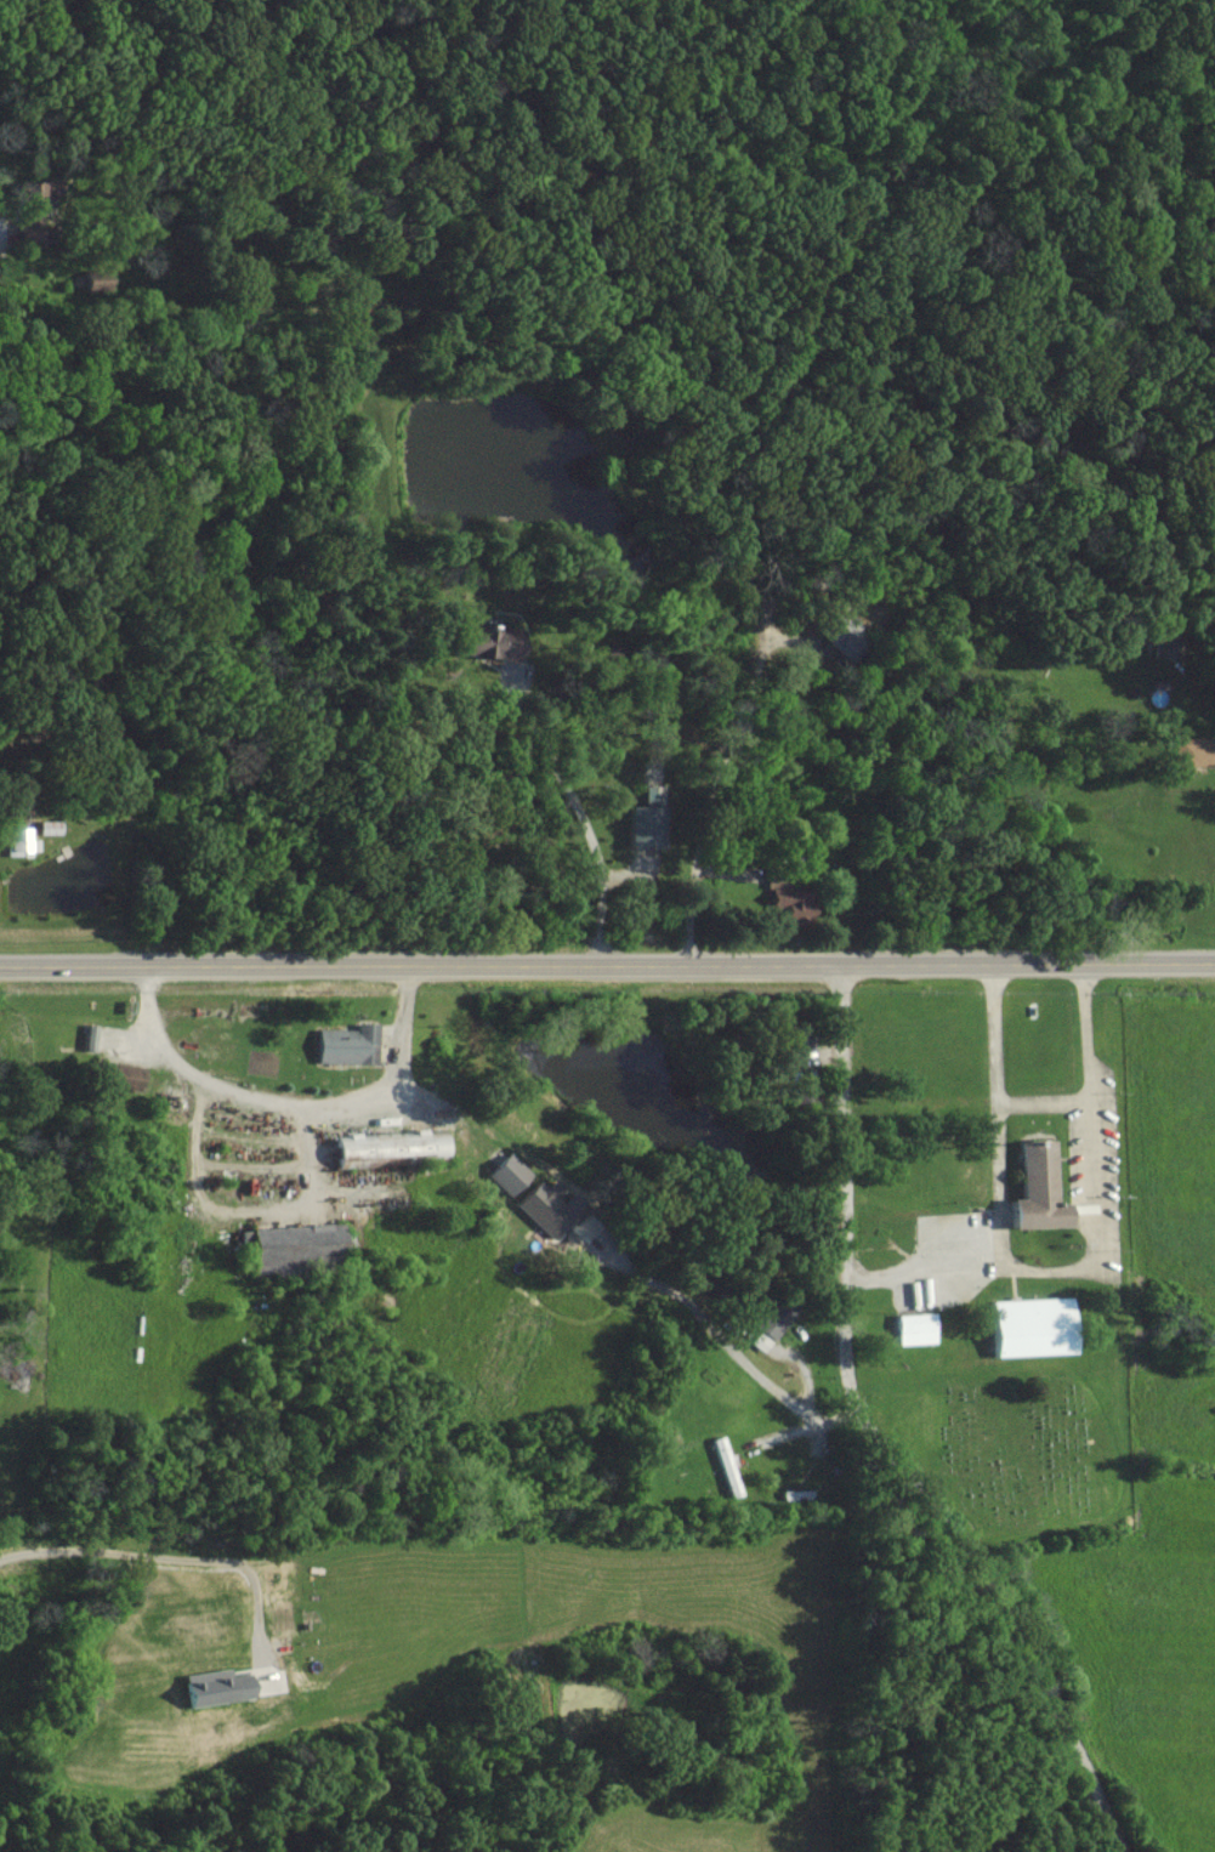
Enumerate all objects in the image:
building: (33, 200)
building: (93, 280)
building: (842, 636)
building: (483, 640)
building: (1192, 751)
road: (579, 809)
building: (643, 819)
building: (45, 826)
building: (19, 843)
road: (691, 887)
building: (790, 902)
road: (607, 961)
building: (86, 1036)
building: (791, 1041)
building: (345, 1044)
building: (118, 1074)
road: (1088, 1078)
building: (797, 1093)
road: (289, 1103)
building: (380, 1147)
building: (505, 1172)
road: (998, 1181)
building: (1033, 1188)
building: (543, 1206)
road: (238, 1210)
building: (286, 1244)
building: (767, 1324)
building: (1029, 1325)
building: (912, 1328)
road: (723, 1340)
road: (871, 1431)
building: (723, 1465)
road: (182, 1558)
building: (212, 1687)

